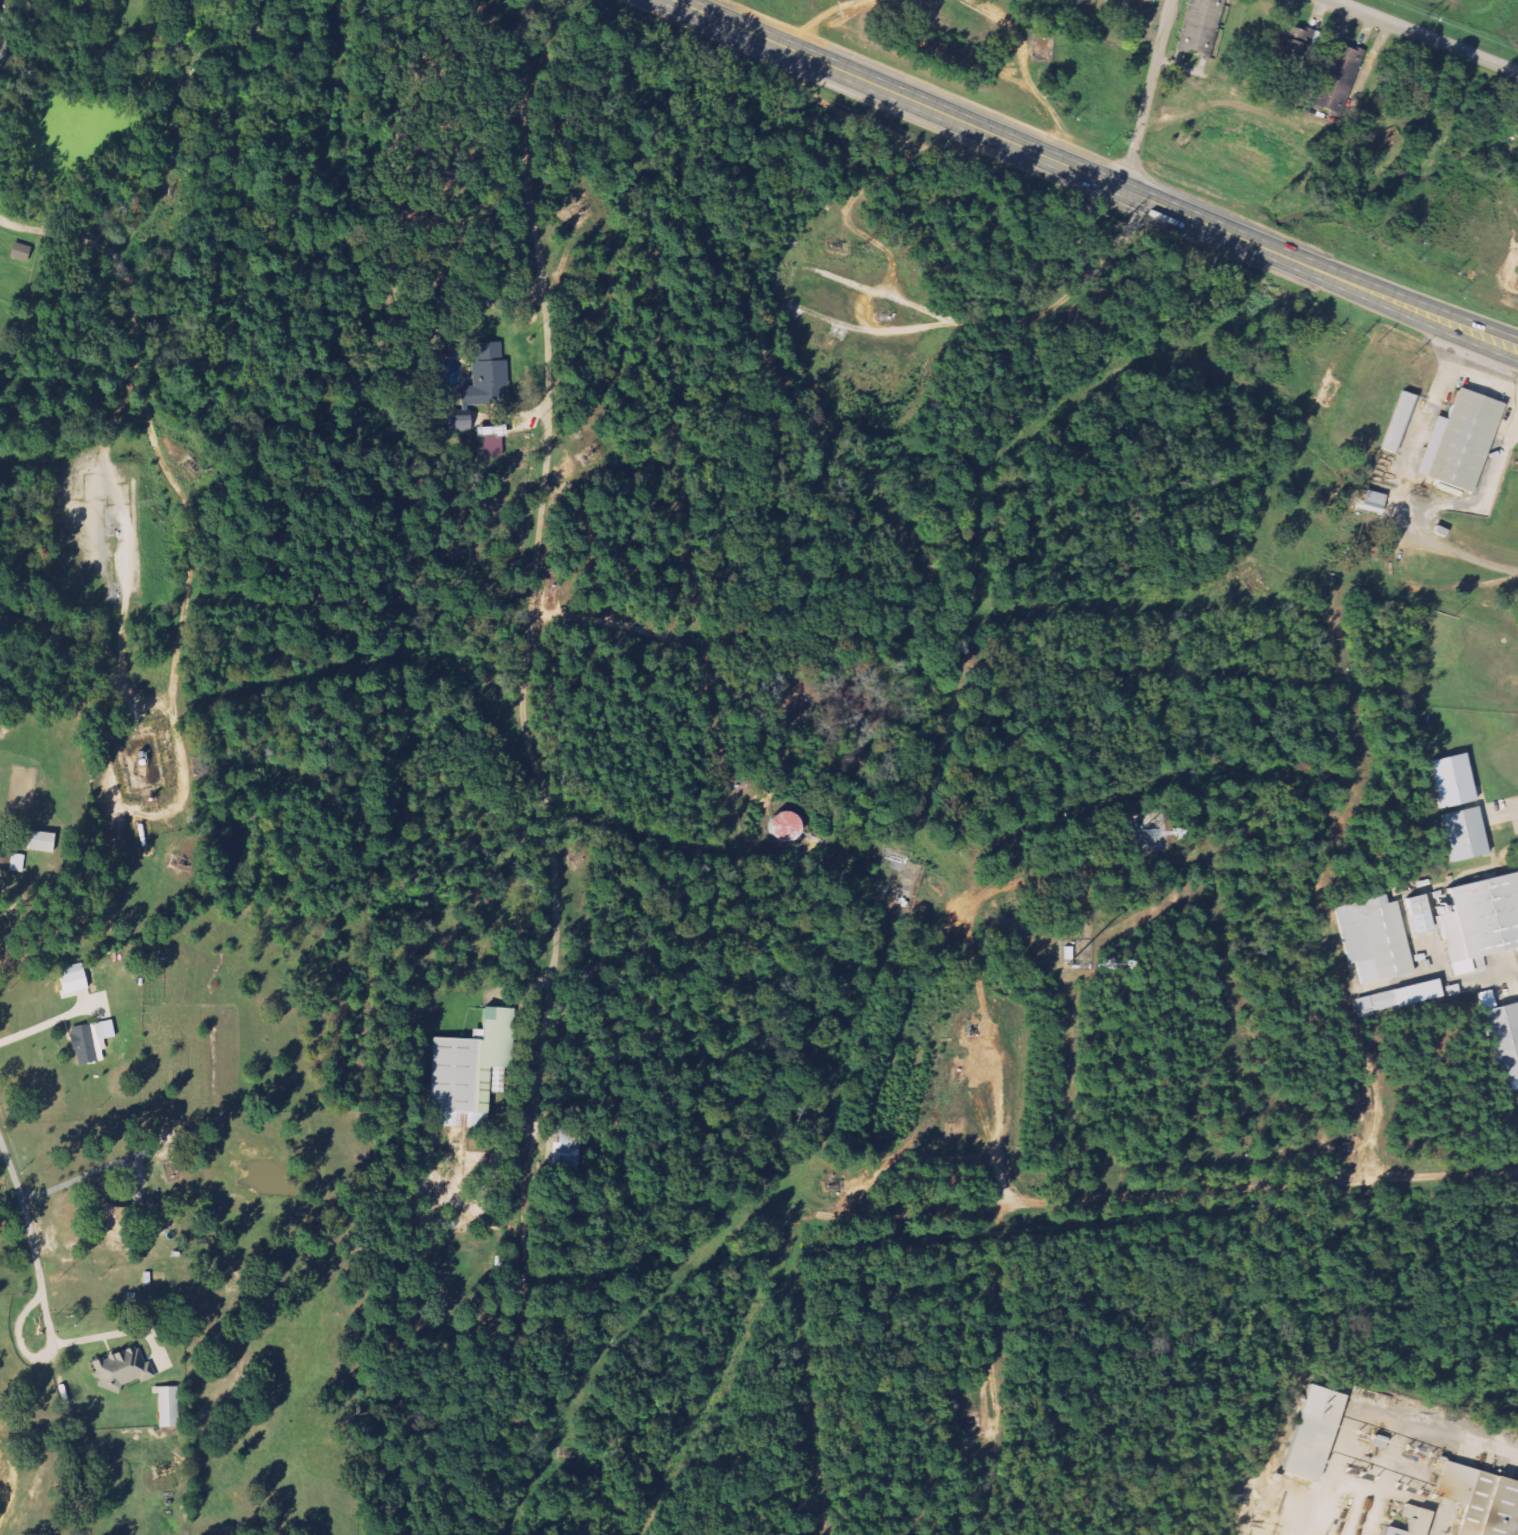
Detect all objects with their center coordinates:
building: (1130, 4)
power tower: (1434, 21)
building: (1199, 27)
road: (1425, 35)
building: (1289, 42)
building: (1336, 78)
road: (1148, 95)
road: (1093, 177)
building: (18, 253)
road: (889, 330)
building: (486, 378)
road: (1482, 384)
building: (1396, 421)
building: (455, 423)
road: (1514, 426)
building: (485, 432)
building: (1458, 440)
building: (492, 446)
road: (1403, 490)
road: (1484, 492)
road: (1256, 499)
building: (1370, 502)
road: (542, 508)
road: (1510, 811)
building: (779, 827)
building: (1461, 832)
building: (43, 841)
building: (6, 861)
road: (1153, 863)
building: (1414, 903)
building: (1480, 919)
building: (1372, 937)
building: (76, 979)
building: (1405, 994)
building: (1501, 1033)
building: (93, 1041)
building: (469, 1071)
building: (1513, 1083)
building: (561, 1148)
road: (997, 1211)
road: (528, 1214)
building: (121, 1221)
road: (36, 1262)
building: (122, 1369)
road: (991, 1387)
building: (171, 1406)
building: (1311, 1431)
building: (1489, 1506)
building: (1419, 1522)

